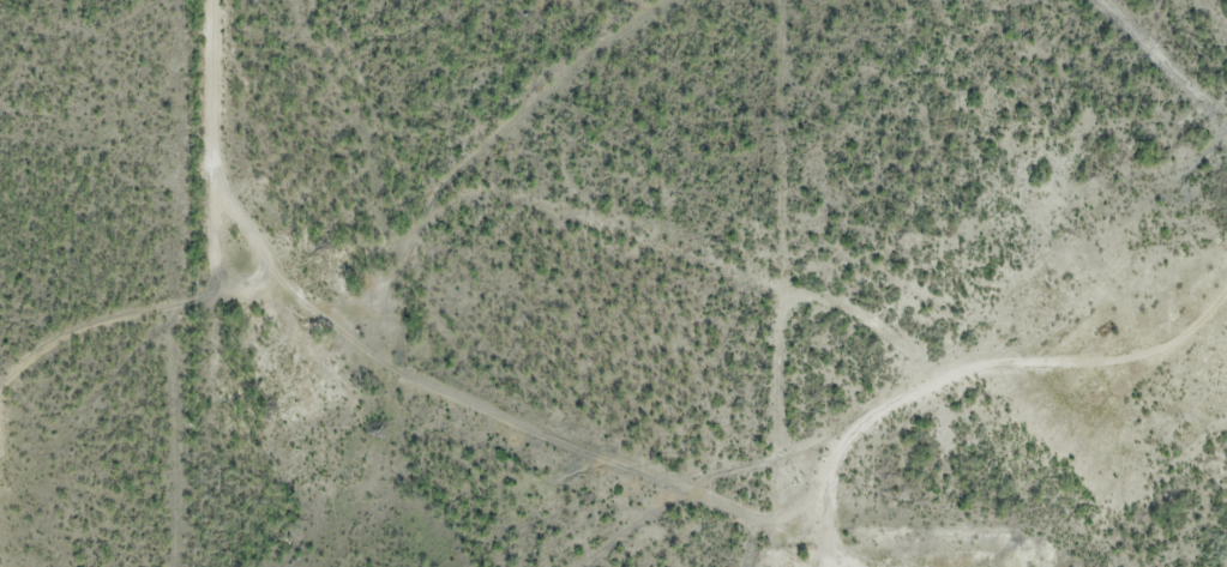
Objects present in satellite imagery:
road: (218, 139)

